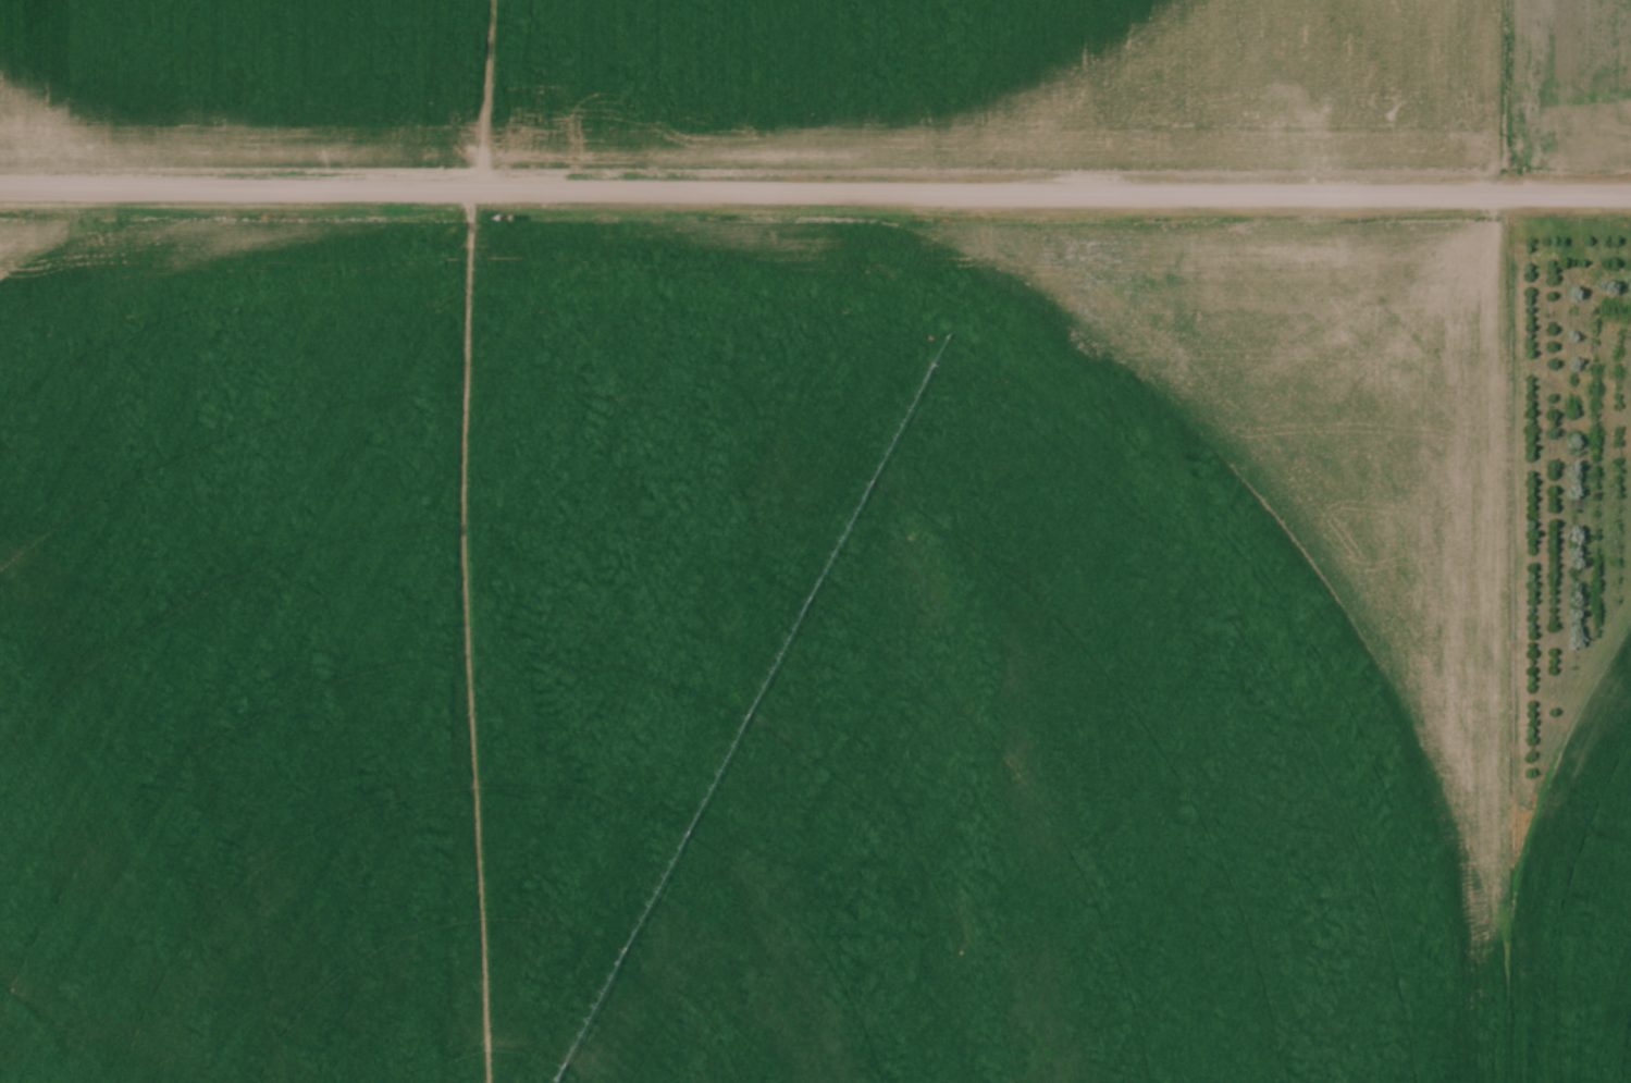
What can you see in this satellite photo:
road: (815, 190)

